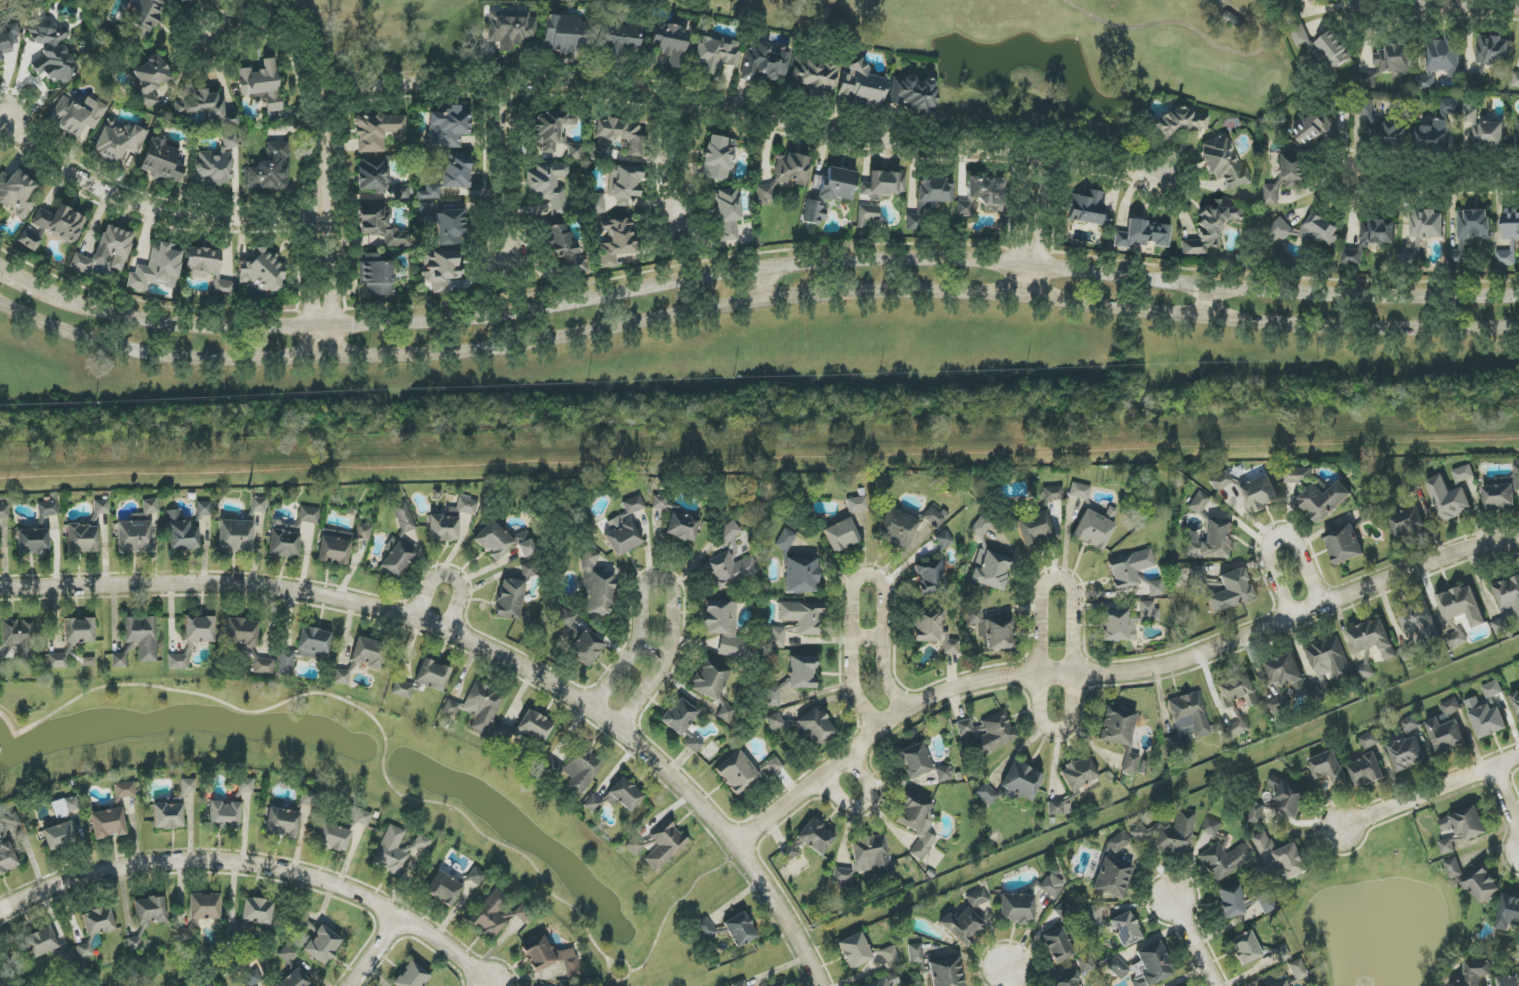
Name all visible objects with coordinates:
building: (183, 1)
building: (1309, 1)
road: (1443, 5)
building: (512, 14)
building: (144, 17)
building: (511, 31)
building: (559, 34)
building: (1300, 35)
park: (997, 38)
building: (620, 40)
building: (8, 41)
building: (671, 44)
building: (1334, 49)
building: (1493, 50)
building: (51, 51)
building: (715, 54)
building: (1444, 55)
building: (1393, 59)
building: (764, 61)
building: (815, 75)
road: (318, 79)
building: (150, 80)
building: (1365, 80)
building: (1515, 80)
building: (1425, 82)
building: (262, 84)
building: (862, 86)
building: (913, 95)
building: (204, 107)
building: (1448, 108)
building: (1469, 112)
building: (78, 115)
road: (743, 117)
building: (1180, 123)
building: (1379, 125)
building: (448, 128)
building: (1315, 129)
building: (378, 132)
building: (1517, 133)
building: (555, 134)
building: (1488, 134)
building: (620, 135)
building: (1432, 136)
building: (118, 140)
building: (718, 158)
building: (161, 161)
building: (217, 162)
road: (665, 162)
building: (1223, 162)
building: (269, 169)
road: (499, 174)
building: (786, 174)
building: (374, 175)
building: (449, 176)
building: (1287, 178)
building: (624, 183)
road: (1329, 183)
road: (1444, 183)
building: (883, 185)
building: (549, 186)
building: (987, 192)
building: (17, 193)
building: (829, 193)
building: (929, 198)
building: (598, 203)
road: (149, 208)
building: (964, 209)
building: (1088, 209)
building: (426, 211)
building: (728, 215)
building: (867, 215)
building: (60, 223)
building: (1427, 224)
road: (1030, 226)
building: (382, 227)
building: (1211, 227)
building: (449, 228)
building: (1470, 231)
building: (1309, 232)
building: (1143, 234)
building: (1509, 237)
building: (29, 238)
building: (1370, 239)
building: (615, 241)
building: (562, 245)
building: (106, 251)
building: (208, 267)
building: (157, 268)
building: (441, 270)
road: (753, 270)
building: (263, 271)
building: (377, 275)
road: (763, 283)
road: (313, 290)
road: (332, 290)
road: (755, 299)
road: (1211, 307)
building: (1463, 474)
building: (1298, 475)
building: (1221, 481)
building: (1080, 491)
building: (1053, 494)
building: (1259, 494)
building: (1448, 499)
building: (1323, 500)
building: (1199, 502)
building: (857, 504)
building: (258, 505)
building: (150, 506)
building: (101, 507)
building: (463, 507)
building: (204, 508)
building: (48, 509)
building: (4, 512)
building: (1367, 512)
building: (308, 515)
building: (139, 517)
building: (933, 518)
building: (1407, 522)
building: (682, 527)
building: (980, 527)
building: (443, 528)
building: (625, 528)
building: (896, 528)
building: (1034, 528)
building: (363, 530)
building: (1093, 530)
building: (182, 533)
building: (727, 533)
building: (841, 535)
building: (236, 536)
building: (134, 537)
building: (284, 538)
road: (1277, 538)
building: (82, 539)
building: (493, 540)
building: (785, 540)
building: (944, 540)
building: (33, 541)
building: (1211, 541)
building: (399, 543)
building: (524, 544)
building: (1344, 544)
building: (334, 547)
building: (530, 569)
building: (1129, 569)
building: (730, 570)
building: (991, 570)
building: (801, 575)
building: (1198, 575)
building: (930, 576)
road: (449, 577)
road: (858, 580)
road: (664, 581)
building: (596, 588)
building: (1155, 589)
building: (1230, 591)
building: (509, 599)
building: (1506, 602)
building: (1461, 606)
building: (1148, 611)
building: (803, 616)
building: (565, 622)
building: (1420, 622)
building: (1117, 626)
building: (725, 628)
building: (199, 629)
building: (933, 630)
building: (992, 630)
building: (79, 631)
building: (241, 632)
road: (1073, 636)
building: (142, 637)
building: (777, 637)
road: (868, 638)
building: (1372, 638)
building: (20, 639)
building: (1457, 639)
road: (480, 647)
building: (304, 649)
building: (586, 649)
building: (1408, 652)
building: (368, 653)
road: (649, 656)
building: (119, 660)
building: (57, 661)
building: (178, 662)
building: (1329, 665)
building: (263, 666)
building: (1365, 671)
building: (802, 672)
road: (1114, 673)
building: (432, 675)
building: (341, 677)
building: (710, 679)
building: (1285, 684)
building: (1492, 689)
building: (402, 690)
building: (1238, 691)
building: (772, 695)
building: (1516, 703)
road: (356, 706)
building: (477, 707)
building: (726, 713)
building: (679, 716)
building: (1187, 719)
building: (1486, 719)
building: (775, 721)
building: (1411, 723)
building: (534, 726)
building: (815, 726)
building: (1237, 728)
building: (1447, 728)
building: (987, 734)
building: (1120, 734)
building: (1370, 740)
building: (695, 742)
fountain: (0, 752)
building: (1407, 753)
building: (914, 761)
building: (771, 767)
building: (1329, 767)
building: (582, 769)
building: (1366, 771)
building: (737, 772)
building: (1078, 773)
building: (944, 774)
building: (1021, 781)
building: (188, 786)
building: (245, 786)
building: (124, 790)
road: (1430, 792)
building: (987, 794)
building: (616, 797)
building: (1288, 797)
building: (307, 799)
road: (1506, 801)
road: (865, 804)
building: (65, 807)
building: (1058, 807)
building: (1257, 814)
building: (224, 815)
building: (168, 816)
building: (359, 816)
building: (11, 821)
building: (282, 822)
building: (108, 823)
building: (1465, 823)
building: (917, 824)
building: (1212, 827)
building: (1169, 834)
building: (59, 836)
building: (333, 837)
building: (810, 839)
building: (635, 845)
building: (665, 845)
building: (1447, 846)
building: (396, 850)
building: (1281, 857)
building: (7, 858)
building: (867, 859)
building: (1223, 859)
road: (256, 866)
building: (1114, 868)
building: (1453, 868)
building: (475, 876)
building: (1481, 884)
building: (1052, 885)
building: (443, 889)
building: (977, 898)
road: (677, 902)
building: (1231, 902)
building: (1266, 903)
building: (204, 907)
building: (1016, 908)
building: (150, 911)
building: (257, 911)
building: (1064, 911)
building: (521, 912)
building: (1508, 912)
building: (302, 914)
building: (490, 914)
building: (1094, 915)
building: (961, 925)
building: (95, 929)
building: (705, 929)
building: (1125, 929)
building: (739, 930)
building: (185, 935)
building: (233, 935)
building: (40, 942)
road: (1193, 942)
building: (134, 944)
building: (321, 944)
building: (1057, 946)
building: (1245, 948)
road: (374, 951)
building: (855, 951)
building: (1281, 953)
building: (287, 954)
building: (916, 954)
building: (891, 956)
building: (550, 957)
road: (617, 959)
building: (1086, 964)
building: (1152, 965)
building: (1118, 968)
building: (1297, 970)
building: (946, 972)
building: (1475, 973)
building: (411, 976)
road: (3, 978)
road: (1008, 978)
building: (295, 979)
building: (1064, 979)
building: (1508, 980)
building: (886, 981)
building: (739, 983)
building: (779, 983)
building: (1280, 983)
building: (211, 985)

